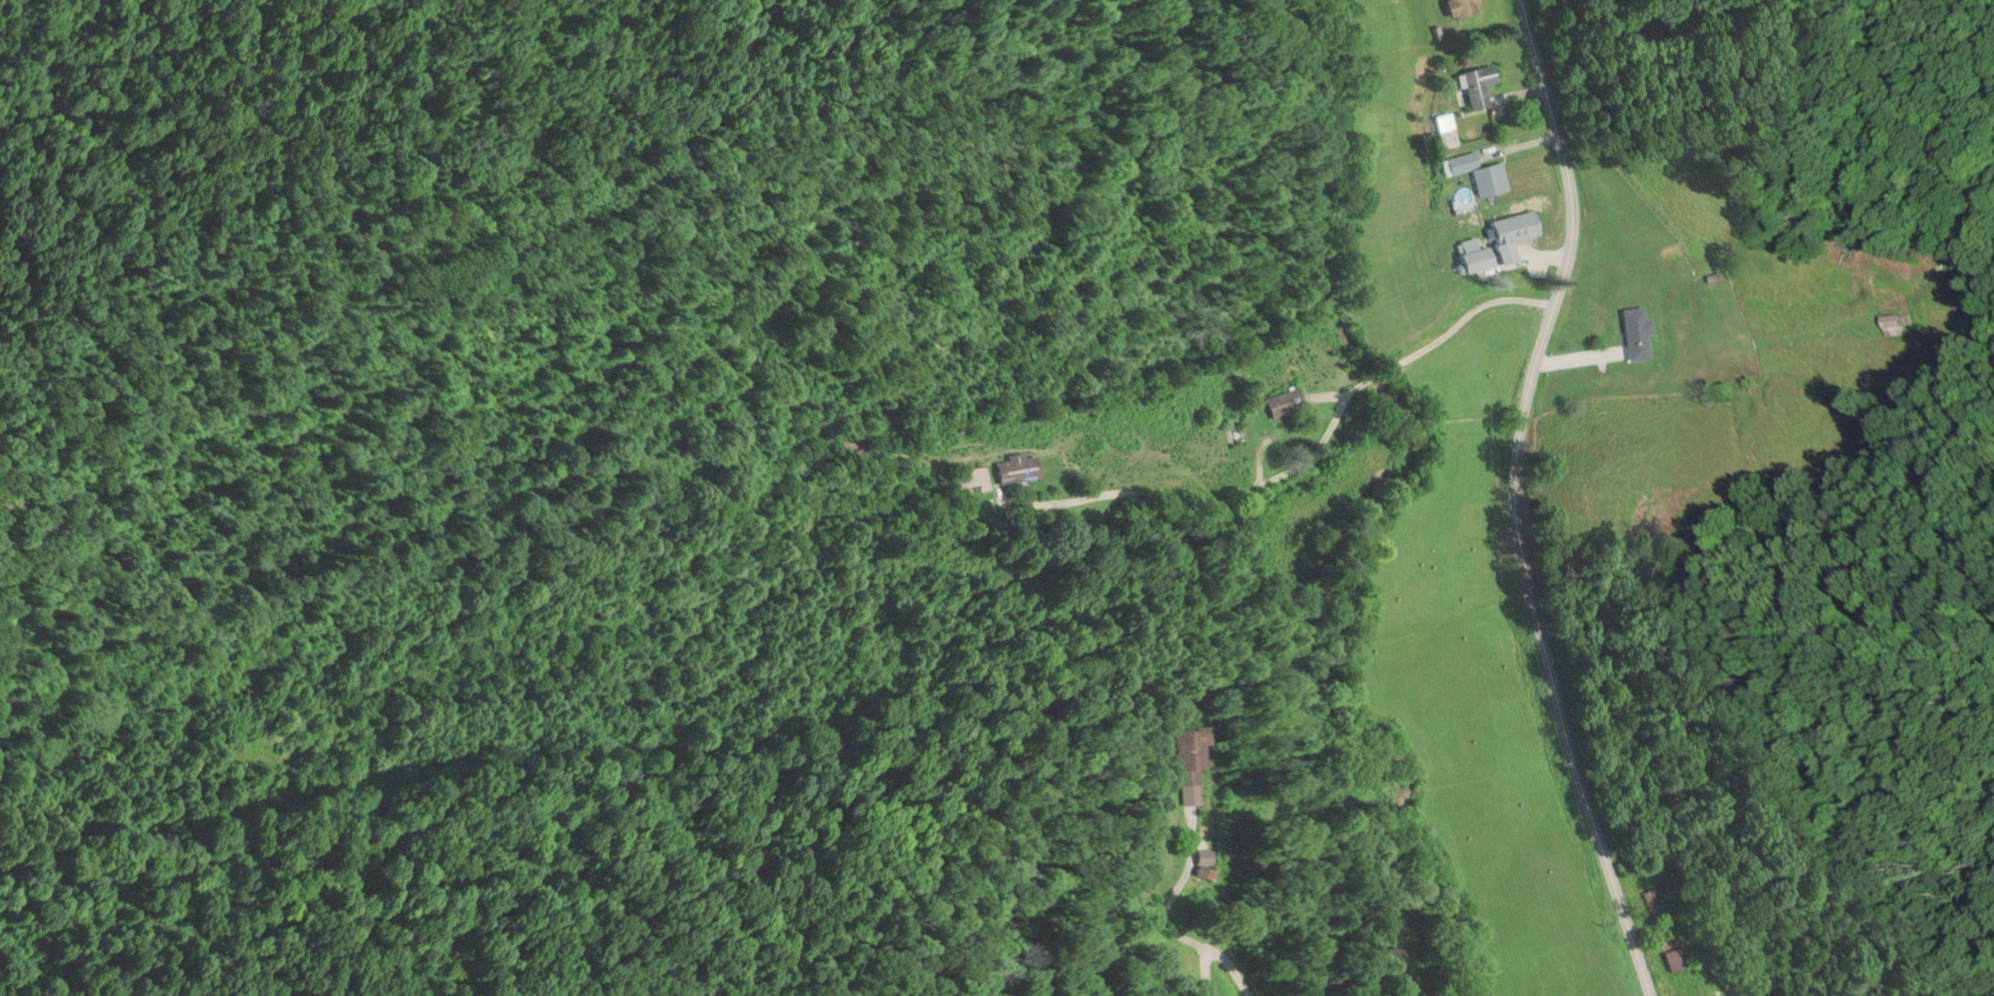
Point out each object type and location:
building: (1463, 8)
building: (1480, 85)
building: (1447, 129)
building: (1478, 173)
building: (1514, 235)
building: (1897, 325)
road: (1444, 327)
building: (1638, 334)
building: (1286, 403)
building: (857, 448)
building: (1019, 468)
building: (972, 479)
road: (1522, 500)
road: (1205, 503)
building: (1193, 756)
building: (1652, 903)
building: (1674, 954)
building: (1378, 959)

